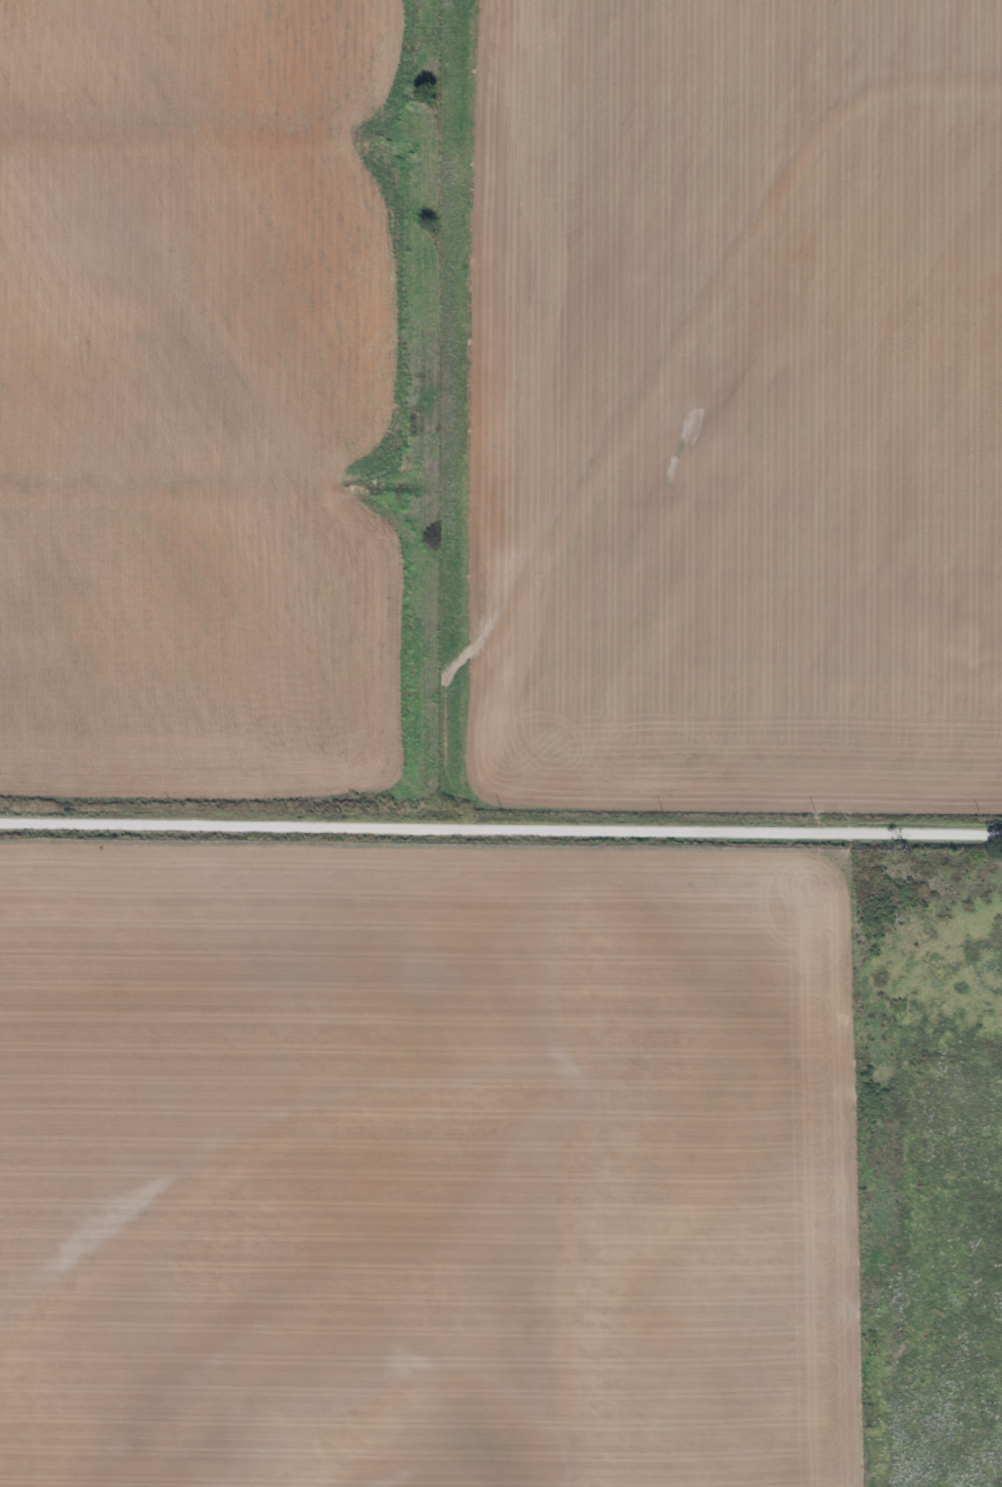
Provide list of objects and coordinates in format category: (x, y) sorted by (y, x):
road: (500, 827)

